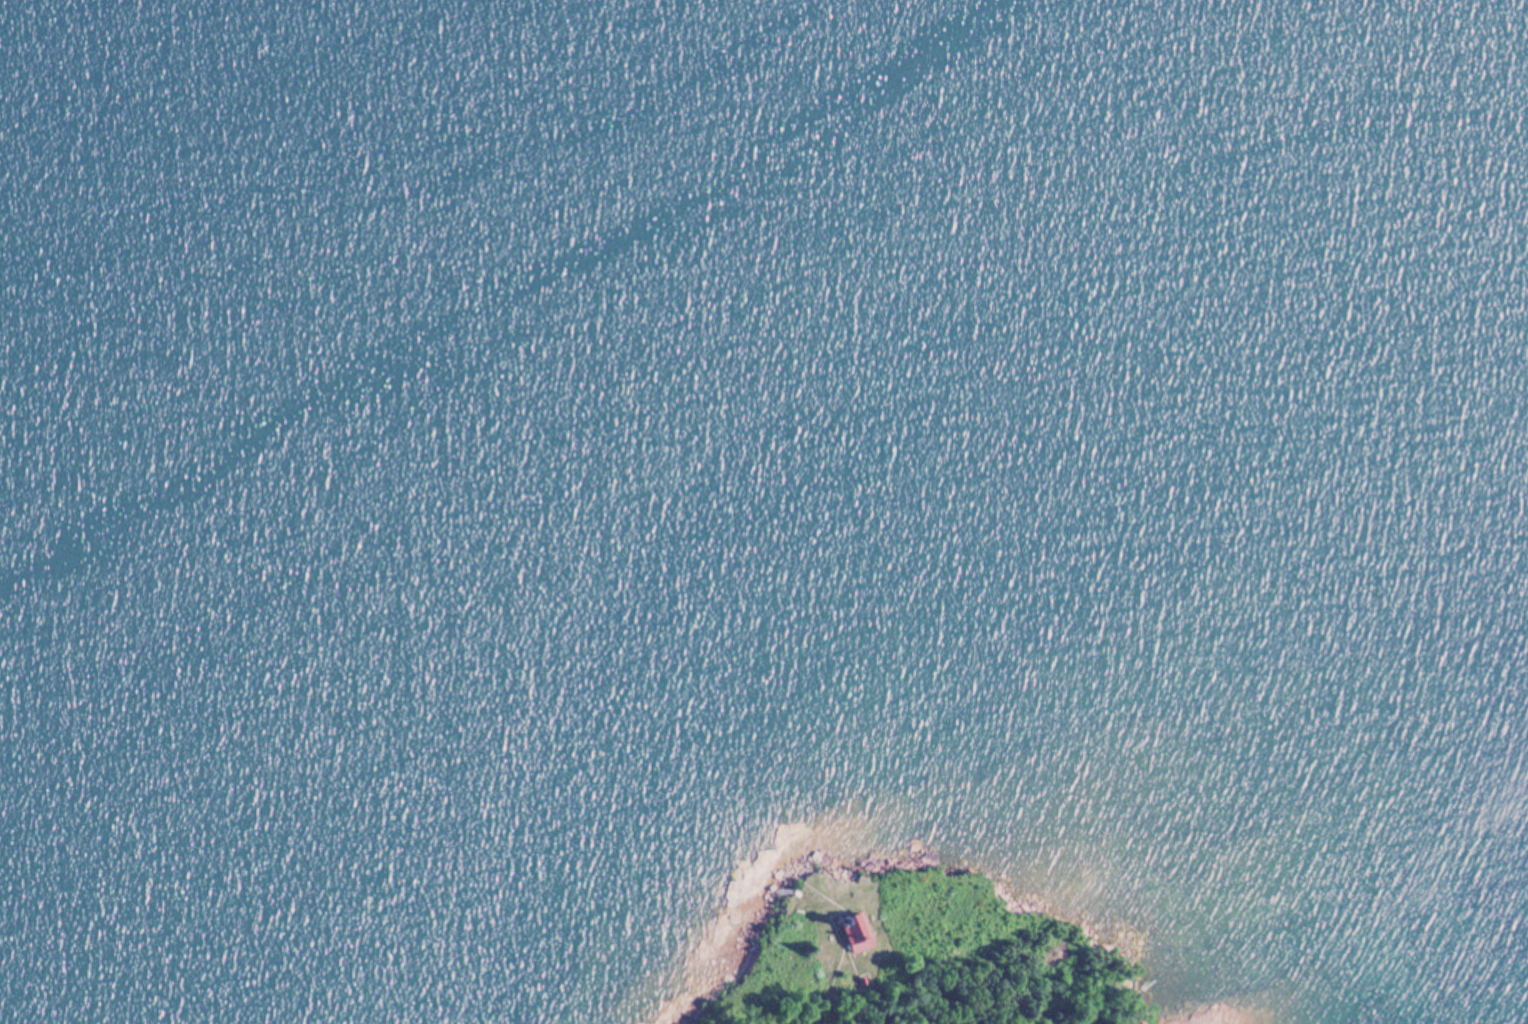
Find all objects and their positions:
road: (822, 897)
lighthouse: (845, 924)
building: (847, 932)
road: (851, 966)
building: (859, 981)
road: (830, 986)

